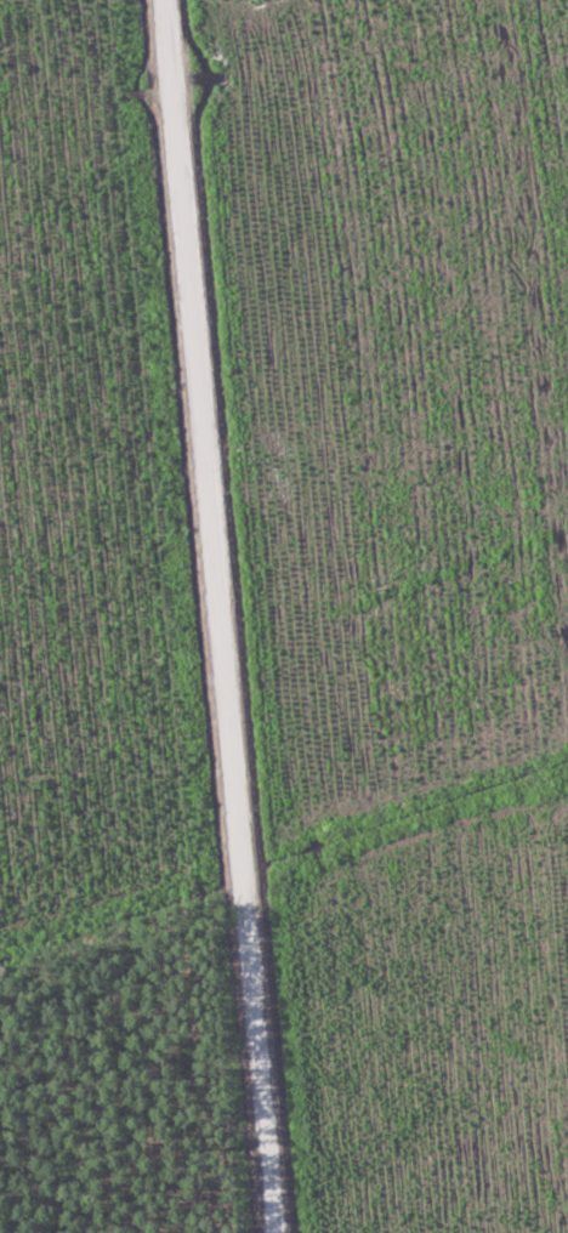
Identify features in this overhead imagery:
road: (200, 614)

